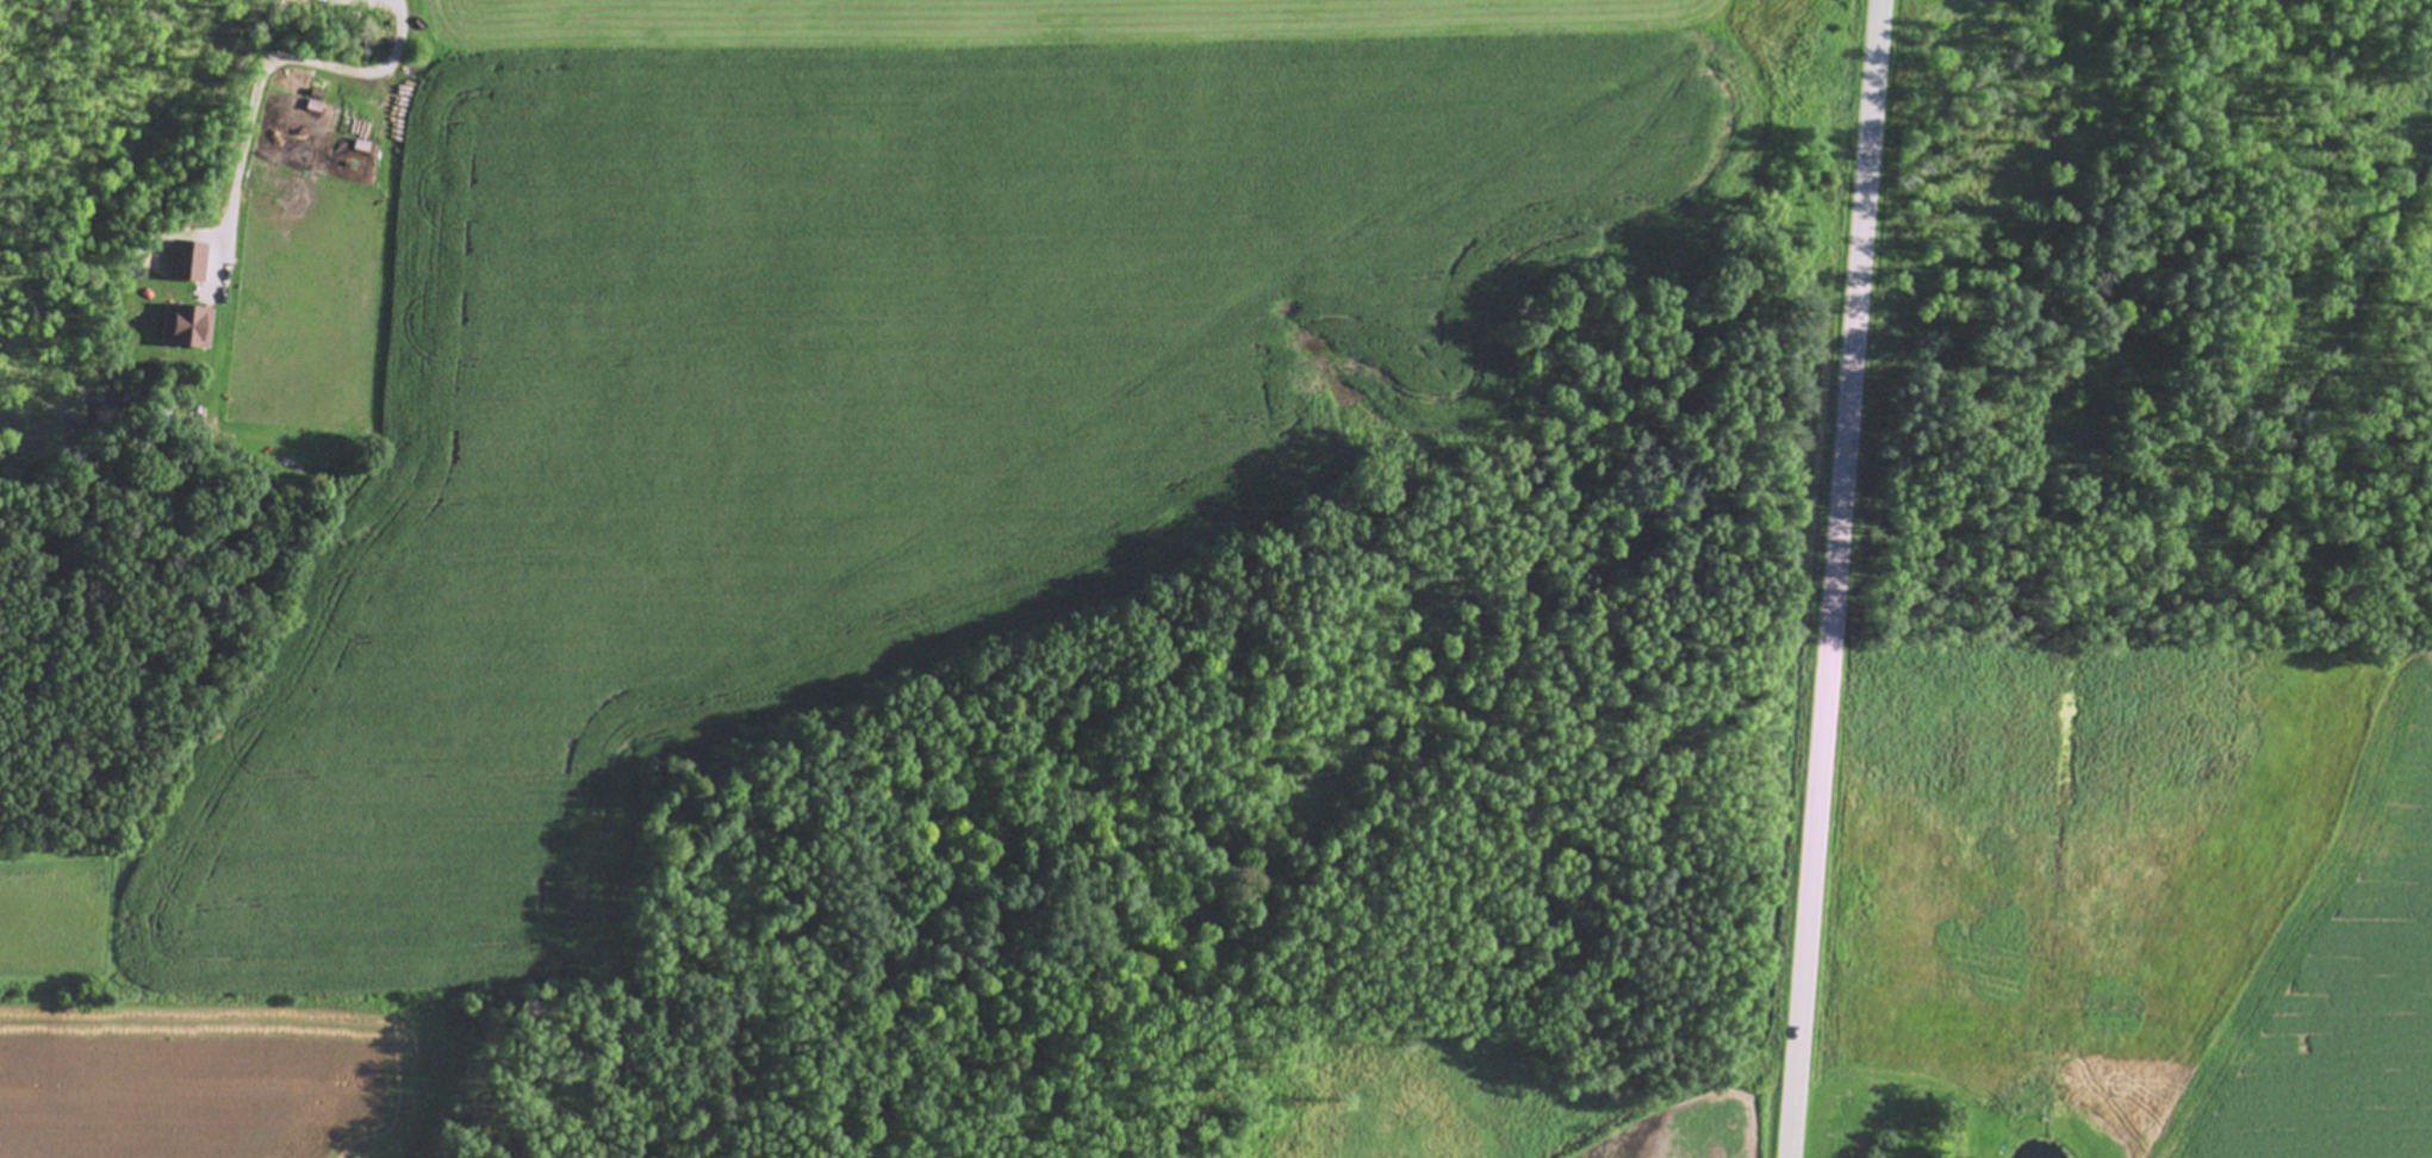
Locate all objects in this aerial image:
building: (315, 101)
building: (187, 261)
building: (187, 325)
road: (1834, 579)

